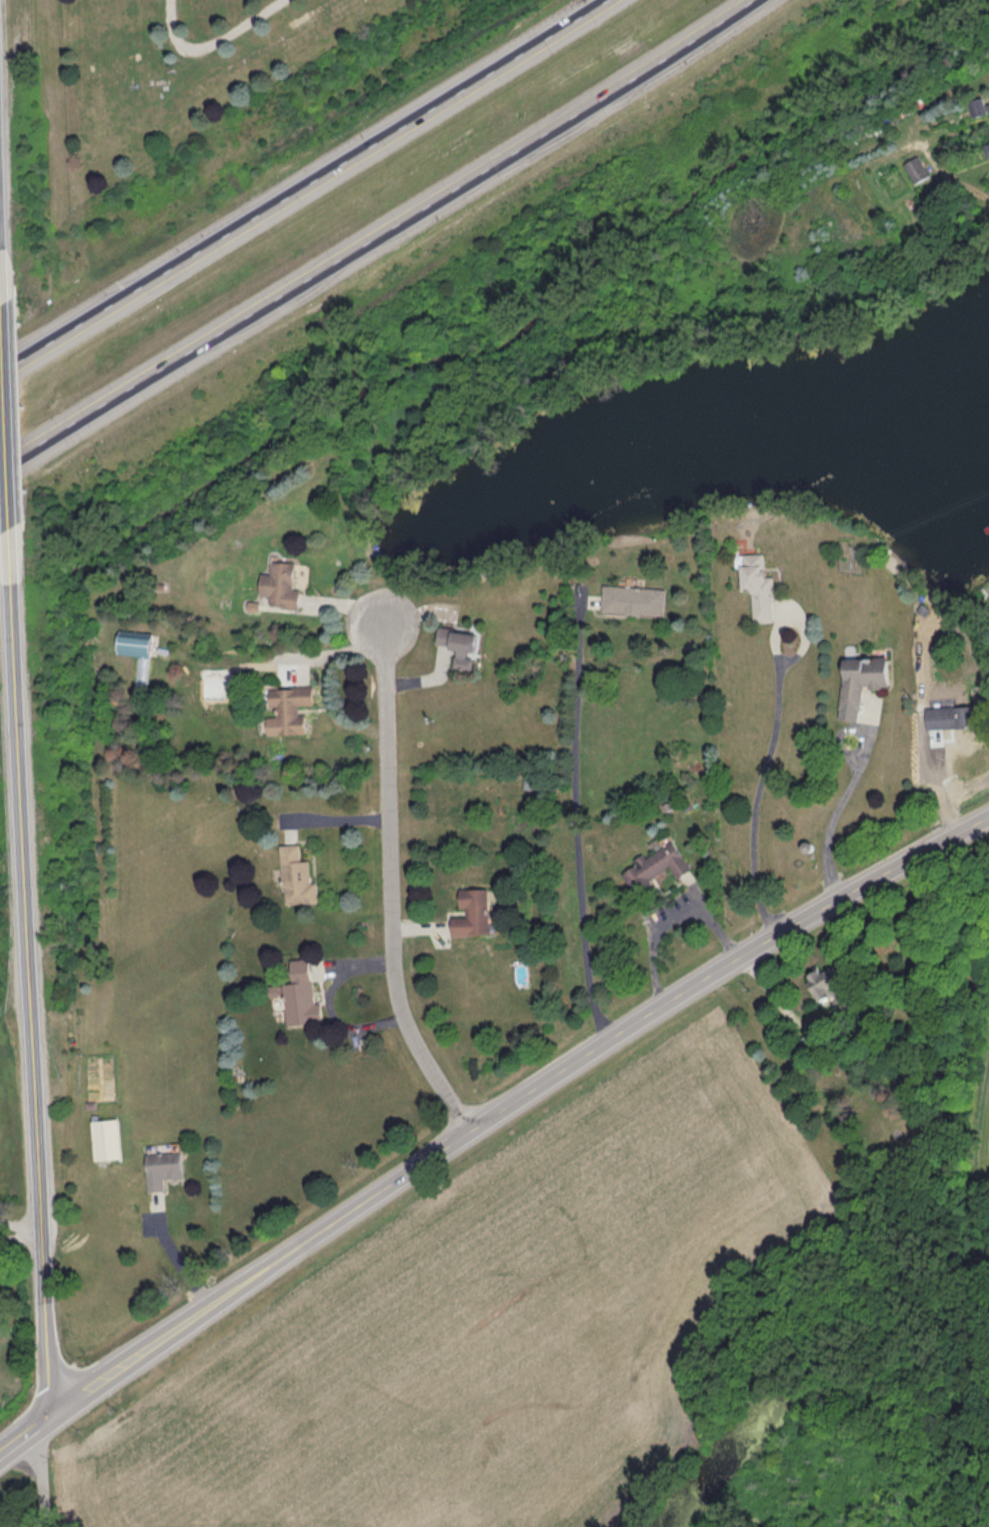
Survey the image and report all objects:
road: (212, 43)
park: (179, 69)
building: (979, 106)
building: (917, 170)
road: (304, 187)
road: (3, 197)
road: (381, 236)
road: (12, 416)
building: (281, 587)
building: (758, 587)
building: (634, 601)
building: (459, 646)
road: (338, 650)
building: (137, 653)
building: (861, 680)
building: (288, 710)
building: (953, 718)
road: (759, 788)
road: (836, 817)
road: (339, 818)
road: (577, 827)
building: (656, 866)
building: (297, 878)
road: (393, 885)
building: (472, 915)
road: (724, 963)
road: (35, 972)
building: (829, 988)
building: (301, 995)
road: (331, 1006)
building: (106, 1140)
crop: (987, 1160)
building: (163, 1170)
road: (22, 1226)
road: (174, 1256)
road: (263, 1272)
road: (27, 1435)
road: (42, 1478)

